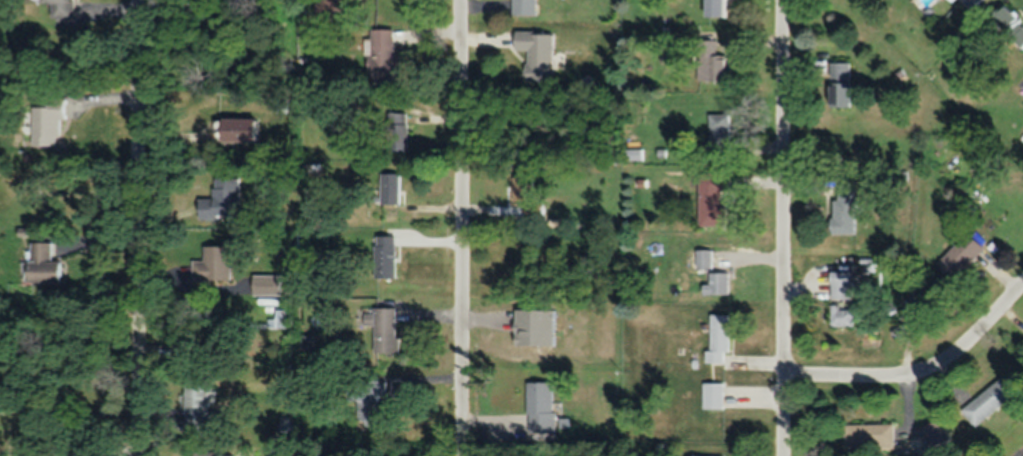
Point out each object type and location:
building: (972, 4)
building: (61, 8)
building: (526, 8)
building: (719, 8)
building: (1007, 28)
building: (383, 55)
building: (539, 56)
building: (714, 69)
building: (841, 86)
building: (50, 121)
building: (720, 130)
building: (242, 131)
building: (398, 133)
building: (392, 190)
building: (524, 192)
building: (715, 199)
building: (224, 201)
building: (845, 211)
road: (137, 228)
road: (458, 228)
road: (782, 228)
building: (961, 256)
building: (387, 257)
building: (702, 259)
building: (45, 266)
building: (216, 266)
building: (719, 284)
building: (842, 285)
building: (924, 304)
building: (845, 316)
building: (385, 329)
building: (719, 338)
road: (918, 376)
building: (715, 396)
building: (989, 402)
building: (375, 407)
building: (201, 410)
building: (542, 410)
building: (871, 437)
building: (216, 455)

